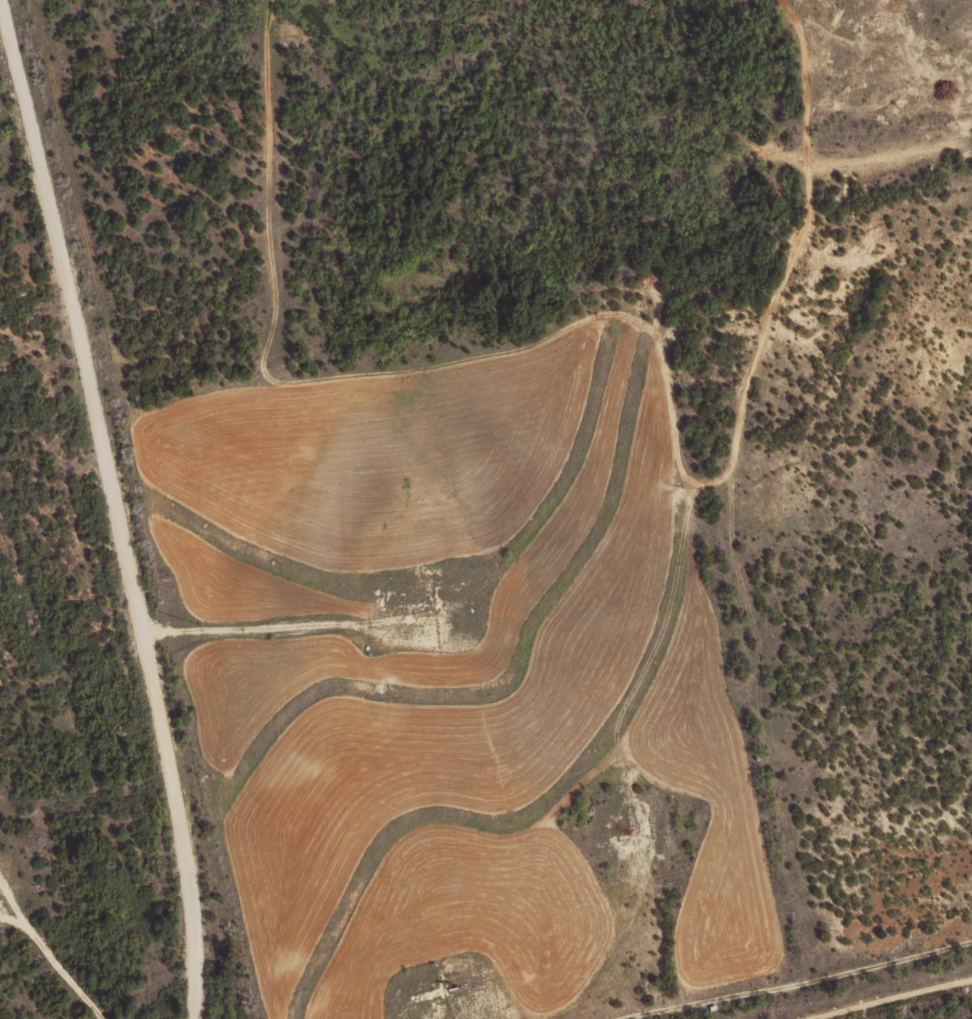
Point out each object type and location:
road: (722, 475)
road: (11, 882)
road: (58, 928)
road: (768, 971)

